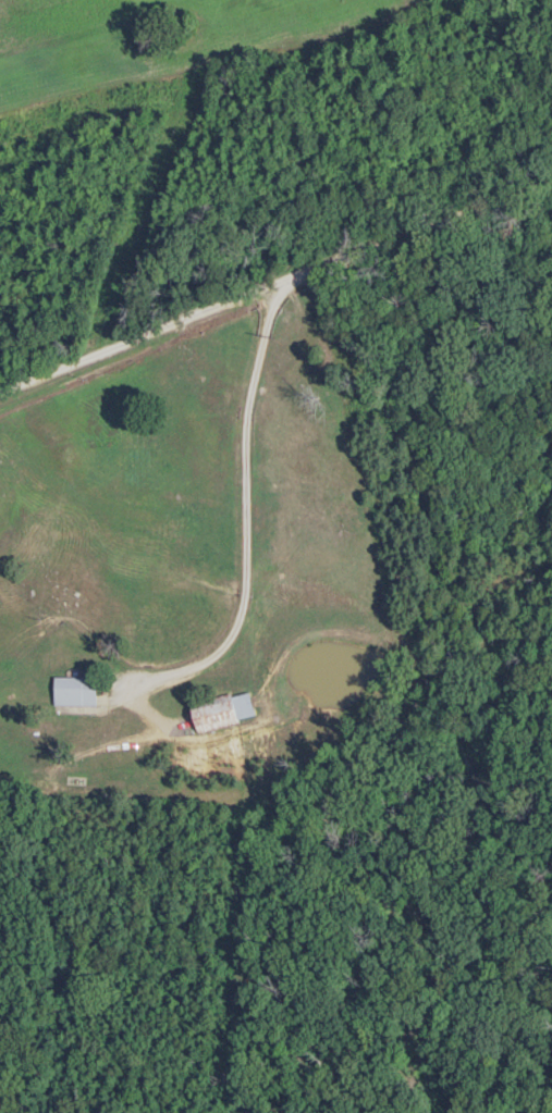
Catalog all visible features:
road: (406, 231)
road: (131, 337)
building: (83, 692)

